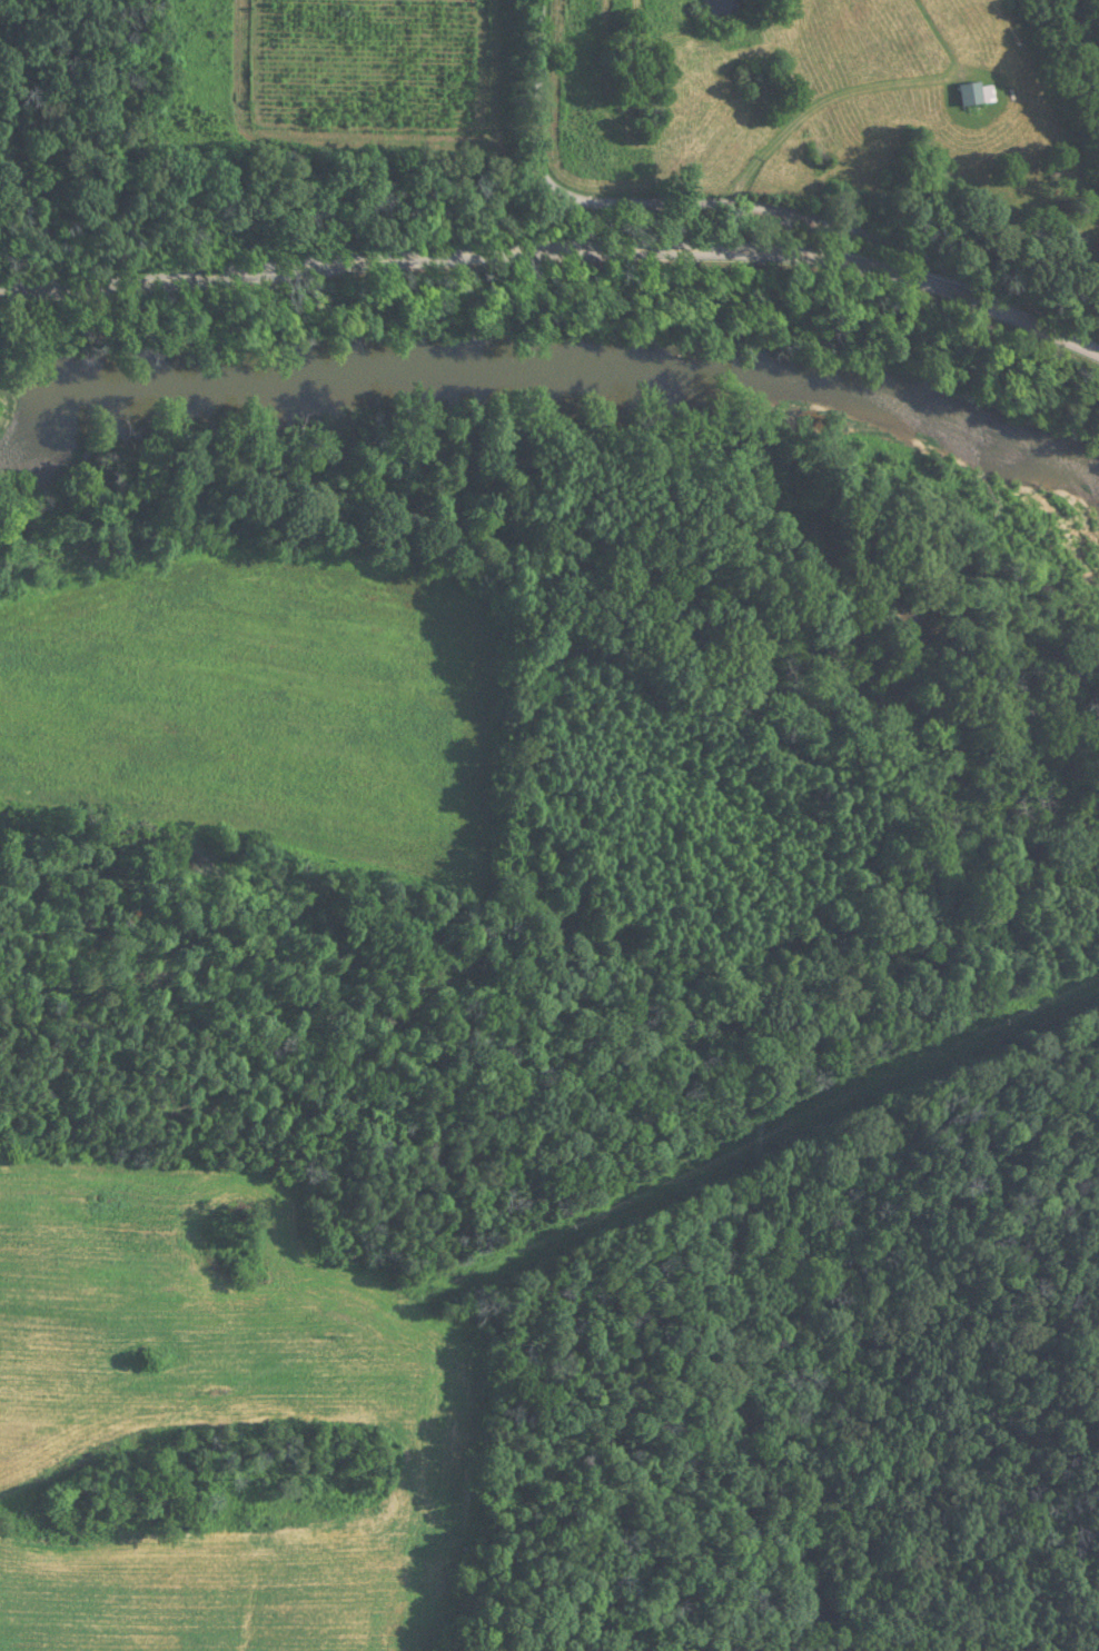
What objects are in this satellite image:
building: (964, 92)
road: (680, 205)
road: (557, 248)
river: (552, 374)

